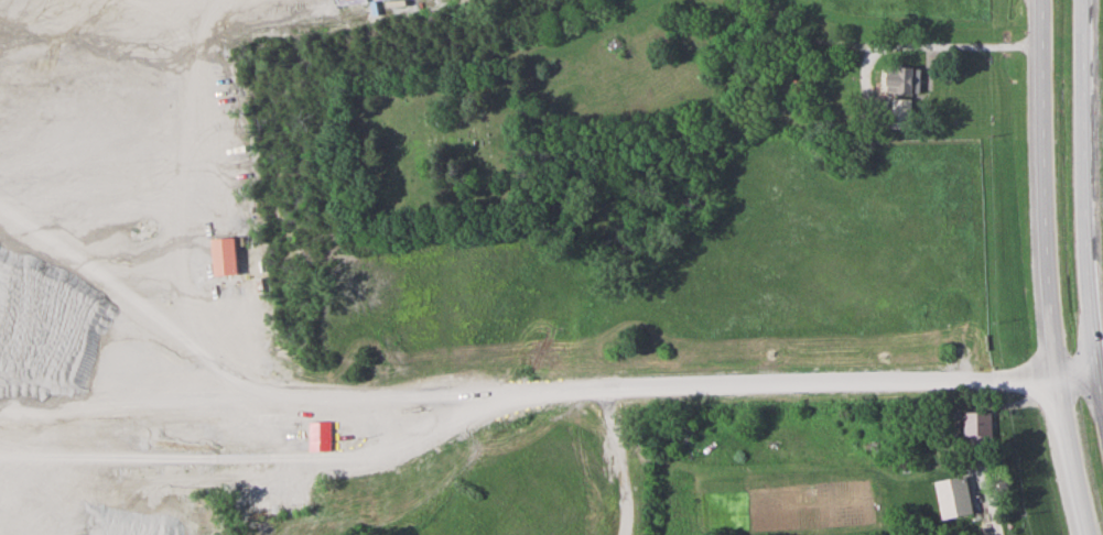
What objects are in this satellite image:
road: (1045, 3)
road: (952, 48)
building: (904, 81)
park: (430, 142)
road: (1089, 184)
road: (187, 194)
building: (229, 256)
road: (1053, 269)
road: (551, 391)
building: (982, 430)
building: (322, 437)
building: (956, 499)
road: (991, 499)

